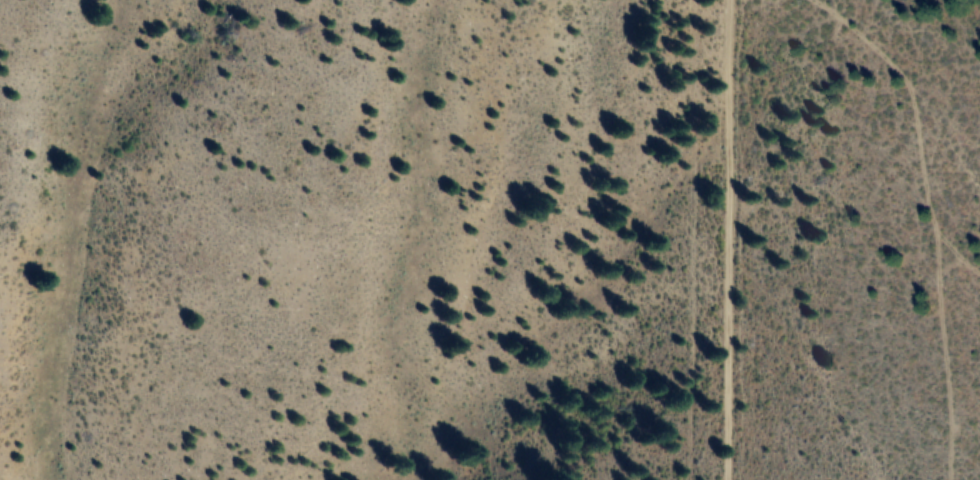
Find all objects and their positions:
road: (915, 236)
road: (681, 240)

